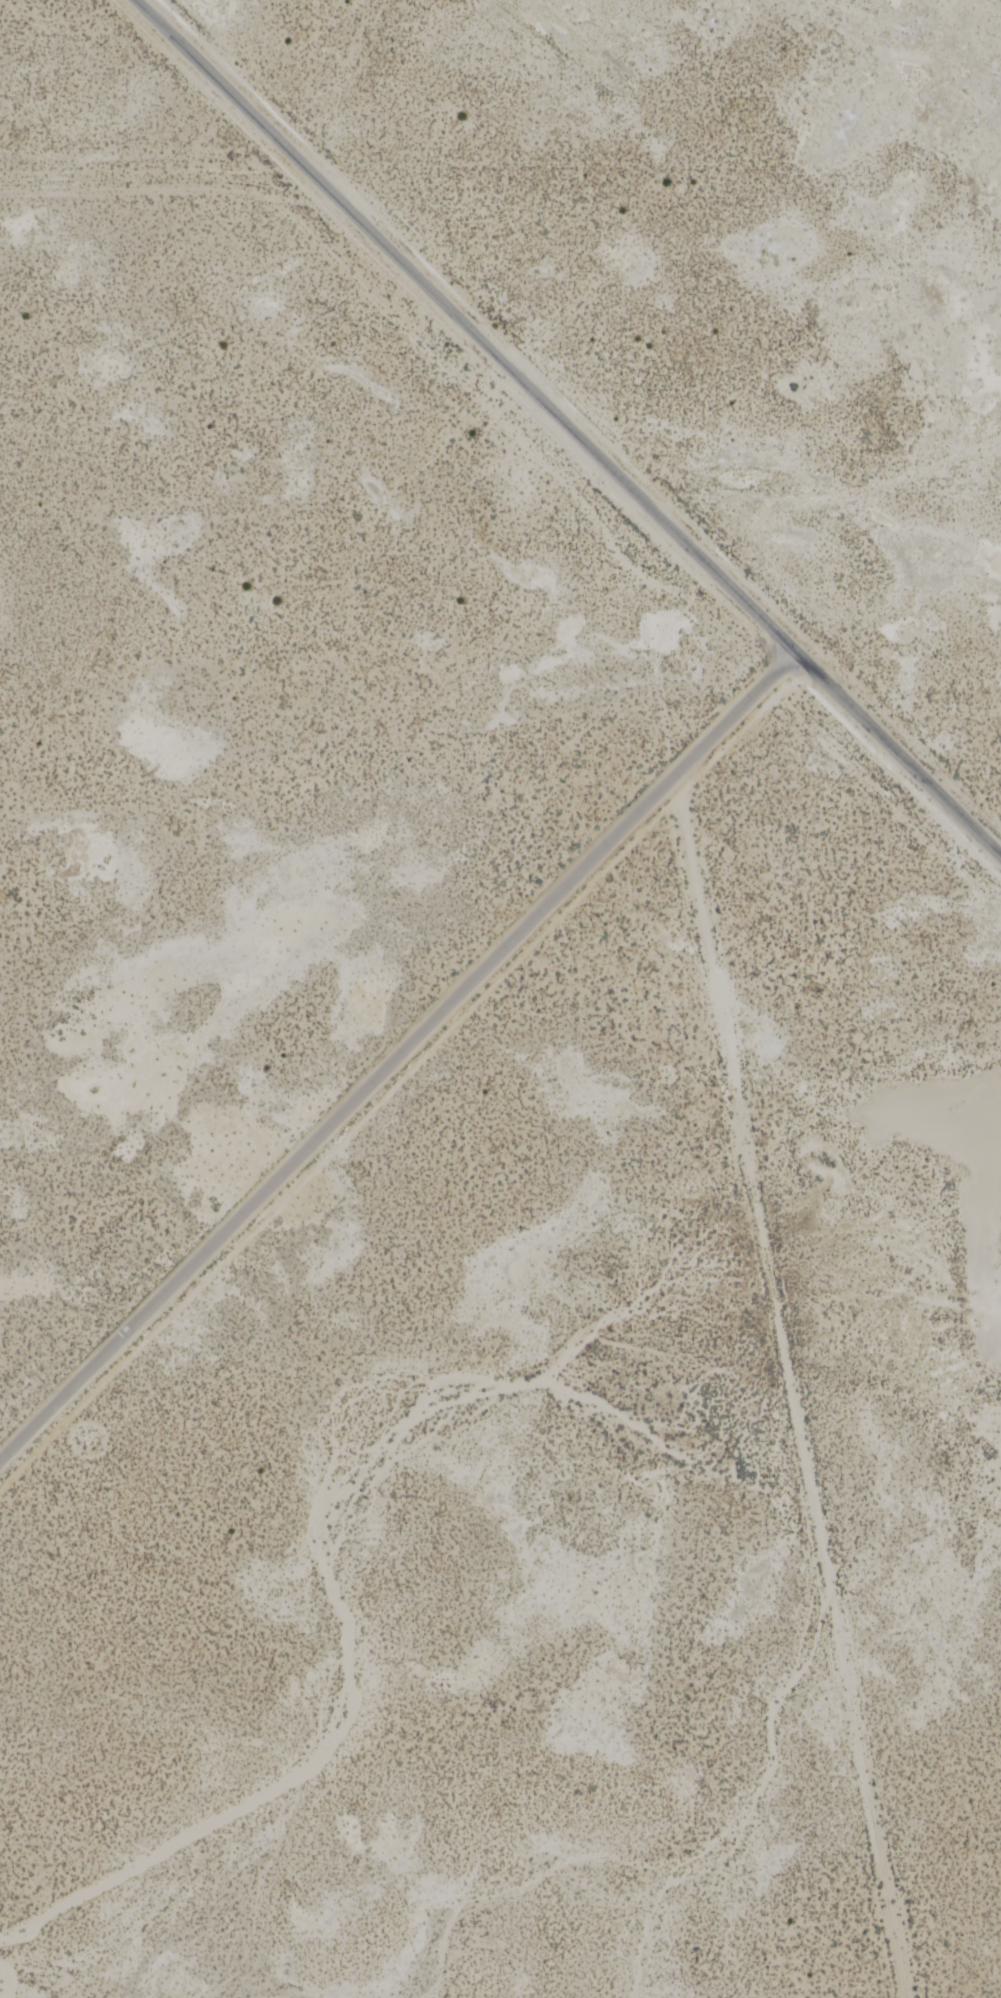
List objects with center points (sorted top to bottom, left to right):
road: (567, 428)
road: (397, 1057)
airport: (458, 1201)

